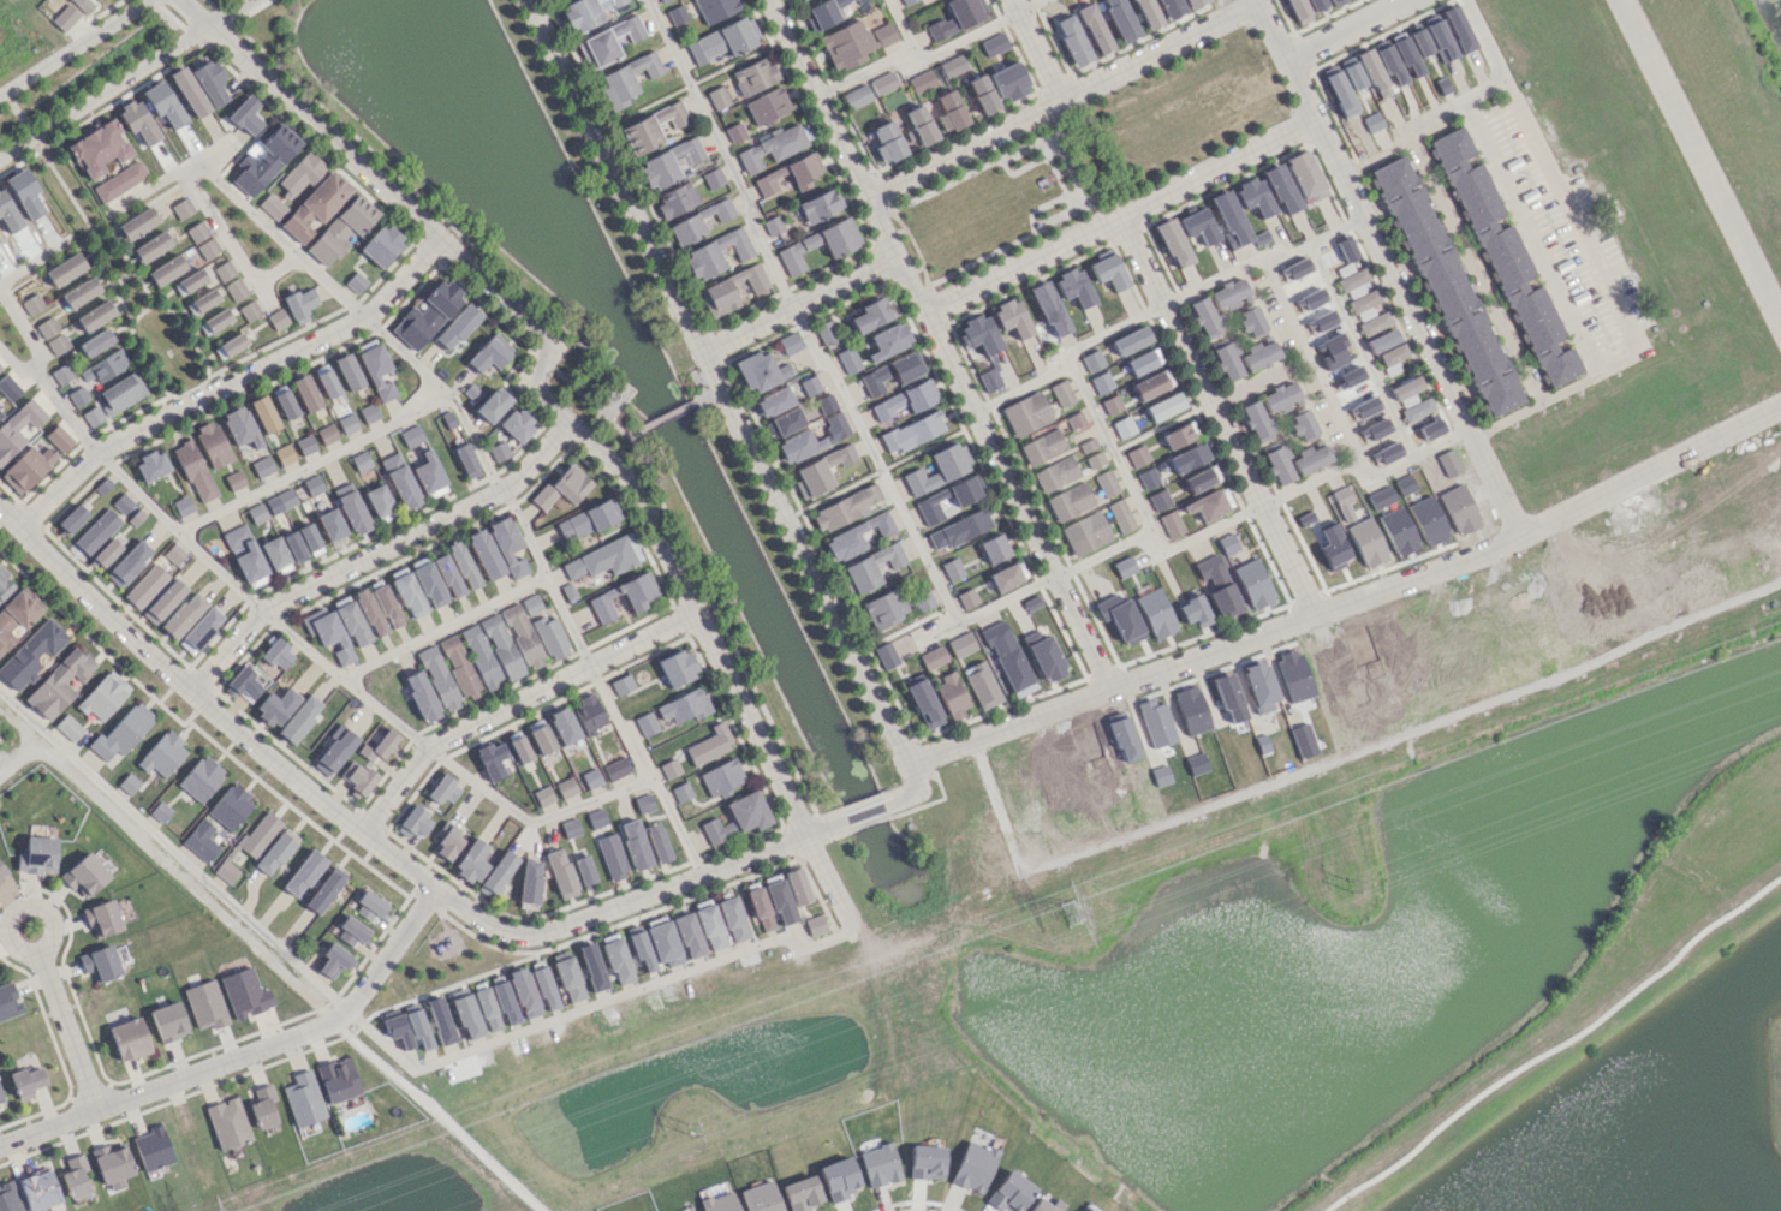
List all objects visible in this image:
building: (662, 0)
building: (794, 0)
building: (859, 1)
building: (906, 1)
building: (1193, 2)
building: (1335, 2)
building: (1316, 4)
building: (83, 5)
building: (1171, 7)
building: (715, 8)
building: (1298, 11)
building: (586, 12)
building: (823, 12)
building: (1146, 13)
road: (231, 14)
building: (677, 14)
building: (64, 17)
building: (957, 17)
building: (1120, 19)
road: (901, 26)
building: (1094, 28)
road: (1342, 29)
building: (1458, 29)
building: (883, 34)
road: (1483, 38)
building: (723, 40)
building: (1071, 40)
building: (1440, 40)
building: (608, 41)
building: (1419, 41)
building: (993, 43)
building: (846, 44)
road: (70, 46)
road: (1034, 49)
building: (1405, 53)
road: (927, 54)
road: (1285, 61)
building: (1389, 64)
building: (952, 66)
building: (1351, 72)
building: (1372, 73)
building: (753, 76)
building: (626, 79)
building: (209, 82)
building: (882, 82)
building: (921, 82)
building: (1008, 82)
building: (1338, 90)
building: (189, 91)
road: (105, 94)
building: (981, 94)
building: (856, 96)
building: (717, 97)
road: (1058, 101)
building: (767, 106)
building: (948, 111)
building: (245, 115)
building: (1371, 121)
building: (917, 126)
building: (650, 127)
building: (734, 132)
building: (886, 142)
building: (774, 145)
building: (97, 148)
road: (723, 151)
road: (1376, 156)
building: (263, 160)
park: (1088, 160)
road: (1702, 161)
building: (668, 162)
road: (209, 168)
building: (803, 169)
building: (300, 173)
building: (1304, 175)
building: (713, 178)
building: (772, 180)
building: (119, 181)
building: (1281, 189)
road: (147, 190)
building: (1253, 197)
building: (675, 199)
building: (272, 205)
building: (315, 205)
building: (818, 205)
building: (181, 208)
building: (1228, 219)
road: (1119, 220)
building: (697, 221)
building: (136, 223)
building: (773, 225)
building: (1198, 226)
building: (341, 229)
building: (839, 237)
building: (201, 239)
road: (1459, 239)
road: (1312, 241)
building: (1172, 243)
building: (381, 244)
building: (150, 246)
building: (715, 253)
building: (796, 253)
road: (34, 259)
building: (1506, 263)
building: (1297, 268)
building: (64, 269)
building: (166, 269)
building: (224, 270)
building: (1107, 270)
building: (189, 281)
building: (1352, 282)
building: (1073, 286)
building: (1446, 286)
building: (234, 288)
building: (729, 290)
building: (79, 292)
building: (1228, 293)
building: (1312, 298)
building: (201, 302)
building: (31, 303)
building: (299, 304)
road: (796, 304)
building: (1363, 304)
building: (1048, 309)
building: (249, 310)
road: (1286, 314)
building: (94, 315)
building: (427, 315)
building: (869, 315)
building: (1204, 315)
building: (1012, 317)
building: (276, 318)
building: (1322, 320)
building: (214, 321)
building: (1251, 322)
building: (1372, 322)
road: (22, 326)
building: (46, 327)
building: (455, 327)
road: (1417, 329)
building: (826, 332)
building: (978, 334)
building: (888, 340)
building: (1130, 340)
building: (1382, 340)
building: (95, 342)
building: (788, 342)
road: (940, 342)
building: (56, 344)
building: (228, 345)
road: (1360, 348)
building: (489, 353)
building: (1392, 353)
building: (1258, 356)
building: (847, 359)
building: (1091, 360)
building: (1227, 360)
building: (1143, 362)
road: (1597, 364)
building: (105, 365)
building: (0, 368)
building: (1392, 368)
building: (347, 371)
building: (376, 371)
building: (761, 371)
building: (890, 372)
building: (60, 374)
road: (530, 376)
building: (989, 378)
road: (1259, 380)
building: (326, 381)
road: (715, 381)
road: (226, 382)
building: (1101, 382)
building: (810, 384)
building: (1151, 384)
building: (8, 387)
road: (1021, 387)
road: (49, 390)
road: (445, 390)
building: (1406, 390)
building: (471, 392)
building: (120, 393)
building: (305, 393)
building: (1061, 393)
building: (77, 395)
building: (1280, 398)
building: (905, 400)
building: (284, 401)
building: (773, 401)
road: (1542, 401)
building: (492, 404)
building: (826, 404)
building: (1110, 404)
building: (1163, 406)
building: (1365, 406)
building: (1417, 410)
building: (263, 413)
building: (368, 413)
building: (1025, 413)
building: (0, 416)
building: (91, 416)
road: (1217, 416)
building: (1256, 419)
building: (787, 420)
building: (347, 423)
building: (516, 424)
building: (1303, 425)
building: (17, 426)
building: (239, 426)
building: (1122, 426)
building: (1376, 428)
building: (912, 431)
building: (326, 434)
building: (1179, 435)
building: (411, 436)
building: (58, 437)
building: (798, 437)
building: (212, 443)
building: (304, 445)
building: (1086, 445)
building: (1042, 446)
building: (498, 451)
road: (1113, 452)
building: (1388, 452)
building: (284, 454)
building: (1137, 455)
building: (1187, 458)
building: (1310, 459)
building: (359, 460)
building: (465, 460)
building: (1094, 460)
road: (876, 461)
road: (311, 463)
building: (1279, 464)
building: (150, 465)
building: (261, 466)
building: (26, 467)
building: (939, 467)
road: (1364, 467)
building: (193, 471)
building: (821, 471)
building: (1055, 473)
building: (429, 475)
building: (1148, 478)
building: (1201, 478)
building: (233, 479)
building: (400, 481)
building: (1106, 483)
building: (312, 484)
building: (562, 487)
building: (947, 499)
building: (1158, 500)
building: (280, 501)
building: (1070, 501)
building: (121, 502)
building: (380, 502)
building: (1342, 502)
building: (1209, 503)
building: (181, 506)
building: (846, 507)
building: (352, 512)
building: (256, 513)
building: (1120, 515)
building: (1305, 518)
building: (70, 519)
building: (588, 519)
building: (330, 524)
building: (1171, 524)
building: (959, 529)
road: (175, 530)
building: (96, 531)
building: (1085, 533)
building: (856, 536)
building: (309, 539)
building: (1226, 541)
building: (1366, 542)
building: (507, 545)
building: (293, 547)
building: (1333, 547)
building: (993, 548)
building: (108, 549)
building: (274, 551)
road: (374, 551)
building: (173, 553)
road: (1101, 553)
building: (484, 554)
building: (245, 556)
building: (603, 557)
building: (127, 562)
building: (461, 565)
building: (1124, 566)
building: (952, 568)
building: (447, 575)
building: (1007, 575)
building: (1252, 583)
building: (5, 584)
building: (429, 584)
building: (144, 585)
building: (1216, 585)
building: (567, 591)
building: (409, 595)
building: (642, 597)
building: (966, 598)
building: (163, 601)
building: (923, 601)
building: (386, 605)
building: (884, 608)
road: (978, 610)
building: (1193, 610)
road: (1321, 610)
building: (369, 612)
building: (1154, 612)
building: (16, 614)
building: (183, 614)
road: (1687, 614)
building: (1122, 621)
building: (351, 624)
road: (442, 626)
building: (199, 630)
building: (330, 636)
building: (514, 637)
building: (550, 637)
building: (961, 644)
building: (30, 654)
building: (276, 654)
building: (886, 655)
building: (479, 656)
building: (933, 657)
building: (1007, 658)
building: (1046, 658)
building: (458, 664)
building: (677, 667)
building: (437, 678)
road: (342, 679)
building: (58, 682)
road: (596, 682)
building: (243, 685)
building: (621, 685)
building: (981, 685)
building: (101, 696)
building: (421, 696)
building: (952, 696)
road: (512, 700)
building: (924, 703)
building: (275, 705)
building: (685, 705)
road: (208, 706)
building: (589, 714)
building: (298, 718)
building: (645, 723)
building: (564, 726)
building: (67, 727)
building: (121, 732)
building: (541, 736)
building: (709, 745)
building: (377, 746)
building: (518, 746)
building: (334, 750)
building: (162, 754)
building: (669, 768)
road: (1308, 768)
building: (615, 769)
building: (199, 777)
building: (591, 777)
building: (721, 777)
building: (356, 778)
building: (127, 783)
building: (566, 787)
building: (442, 789)
building: (681, 792)
building: (542, 795)
road: (996, 805)
building: (230, 806)
building: (160, 811)
road: (865, 812)
building: (737, 817)
building: (596, 818)
road: (529, 819)
building: (413, 822)
building: (570, 828)
building: (258, 834)
building: (199, 840)
building: (447, 842)
building: (657, 842)
building: (635, 843)
road: (171, 849)
building: (275, 851)
building: (36, 855)
building: (610, 855)
building: (471, 860)
road: (169, 866)
building: (2, 870)
building: (583, 870)
building: (225, 871)
building: (498, 871)
building: (303, 872)
building: (560, 873)
building: (83, 875)
power tower: (1354, 879)
building: (529, 881)
road: (828, 882)
building: (797, 885)
building: (324, 889)
road: (636, 896)
building: (780, 902)
building: (368, 906)
power tower: (1074, 908)
building: (760, 909)
building: (101, 918)
building: (733, 919)
building: (815, 925)
building: (710, 927)
building: (350, 932)
building: (689, 935)
road: (6, 938)
building: (662, 941)
road: (818, 942)
park: (428, 948)
building: (641, 950)
building: (333, 960)
building: (616, 961)
building: (99, 962)
building: (592, 970)
building: (568, 979)
building: (544, 989)
building: (244, 992)
building: (523, 992)
building: (8, 1001)
road: (597, 1002)
building: (504, 1003)
building: (204, 1004)
building: (487, 1009)
building: (466, 1016)
building: (439, 1020)
building: (167, 1021)
road: (65, 1028)
building: (398, 1028)
building: (417, 1028)
road: (376, 1037)
building: (127, 1038)
road: (243, 1050)
building: (336, 1080)
building: (25, 1081)
building: (302, 1098)
building: (0, 1100)
building: (262, 1105)
road: (436, 1114)
building: (226, 1123)
power tower: (692, 1129)
building: (151, 1149)
building: (925, 1162)
building: (112, 1163)
building: (880, 1165)
building: (973, 1167)
building: (75, 1176)
building: (839, 1177)
building: (37, 1189)
building: (1009, 1192)
building: (800, 1193)
building: (8, 1197)
building: (719, 1203)

